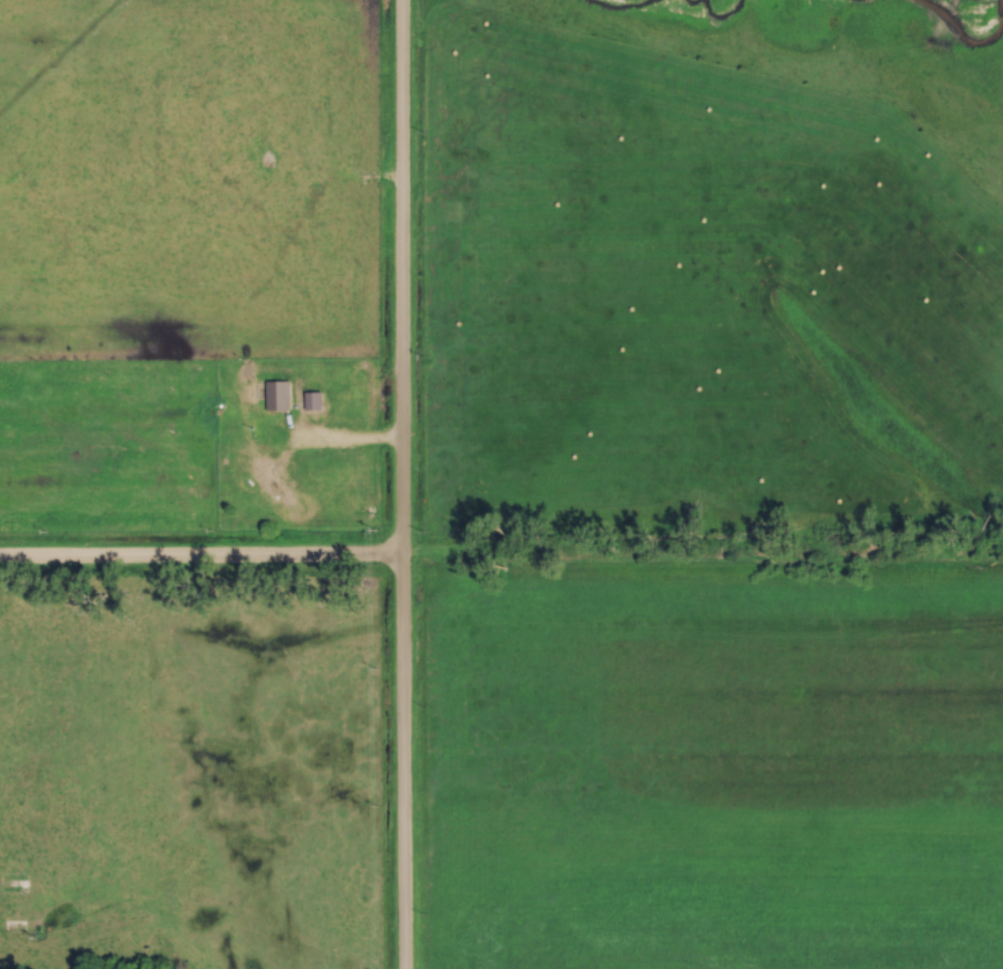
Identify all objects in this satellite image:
river: (613, 7)
river: (935, 20)
building: (276, 397)
building: (310, 402)
road: (345, 446)
building: (268, 482)
road: (403, 484)
road: (202, 564)

